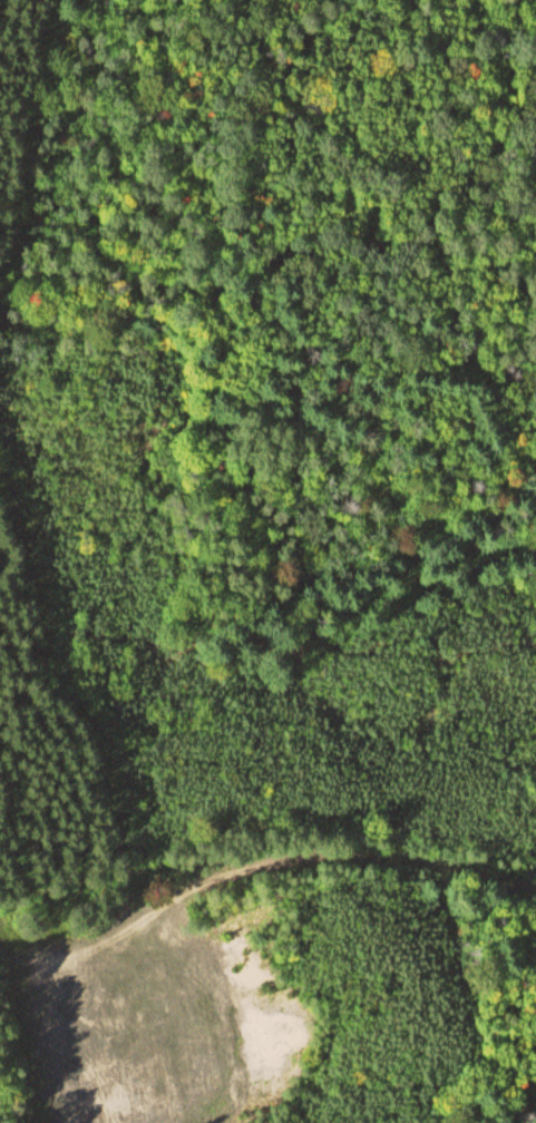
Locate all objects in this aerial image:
road: (261, 868)

